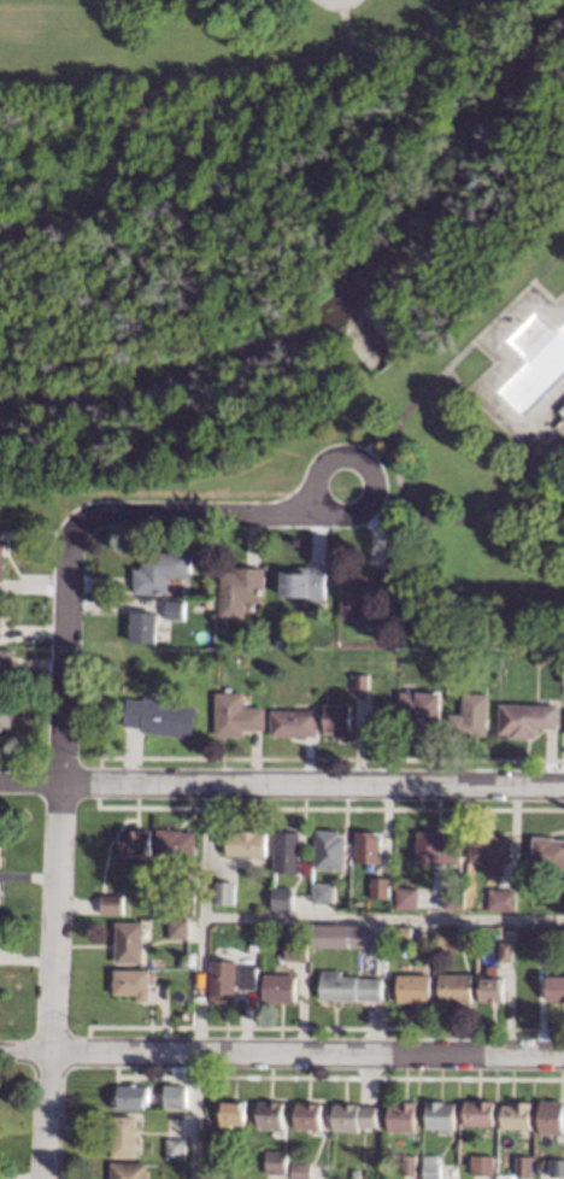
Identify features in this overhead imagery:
road: (345, 27)
road: (206, 70)
building: (512, 83)
park: (296, 272)
river: (353, 303)
road: (460, 354)
building: (562, 410)
road: (316, 493)
road: (193, 514)
road: (451, 522)
building: (4, 561)
building: (163, 570)
building: (307, 581)
building: (404, 583)
building: (242, 588)
building: (363, 589)
building: (212, 603)
building: (177, 609)
building: (1, 618)
building: (146, 624)
building: (0, 640)
building: (540, 658)
building: (6, 659)
building: (563, 679)
building: (363, 684)
building: (6, 705)
building: (425, 709)
building: (239, 714)
building: (161, 716)
building: (472, 716)
building: (340, 717)
building: (528, 717)
building: (296, 722)
road: (281, 790)
building: (135, 840)
building: (248, 841)
building: (176, 845)
building: (370, 846)
building: (440, 847)
building: (331, 849)
building: (493, 849)
building: (289, 851)
building: (550, 851)
building: (1, 852)
road: (54, 852)
building: (0, 886)
building: (381, 886)
building: (227, 891)
building: (325, 892)
building: (470, 896)
building: (284, 897)
building: (409, 897)
building: (457, 898)
building: (509, 899)
building: (187, 902)
building: (113, 903)
road: (382, 917)
building: (181, 927)
building: (403, 932)
building: (339, 935)
building: (450, 935)
building: (544, 938)
building: (131, 940)
building: (300, 945)
building: (507, 950)
building: (249, 976)
building: (225, 979)
building: (135, 981)
road: (198, 984)
building: (352, 986)
building: (281, 987)
building: (415, 987)
building: (457, 987)
building: (557, 987)
building: (494, 989)
road: (281, 1055)
building: (135, 1096)
building: (183, 1097)
building: (235, 1111)
building: (480, 1111)
building: (272, 1113)
building: (518, 1114)
building: (311, 1115)
building: (354, 1115)
building: (404, 1115)
building: (441, 1115)
building: (552, 1116)
building: (127, 1136)
building: (178, 1148)
building: (245, 1149)
building: (257, 1161)
building: (277, 1161)
building: (410, 1163)
building: (483, 1165)
building: (524, 1165)
building: (557, 1166)
building: (431, 1167)
building: (130, 1169)
building: (302, 1169)
building: (357, 1173)

